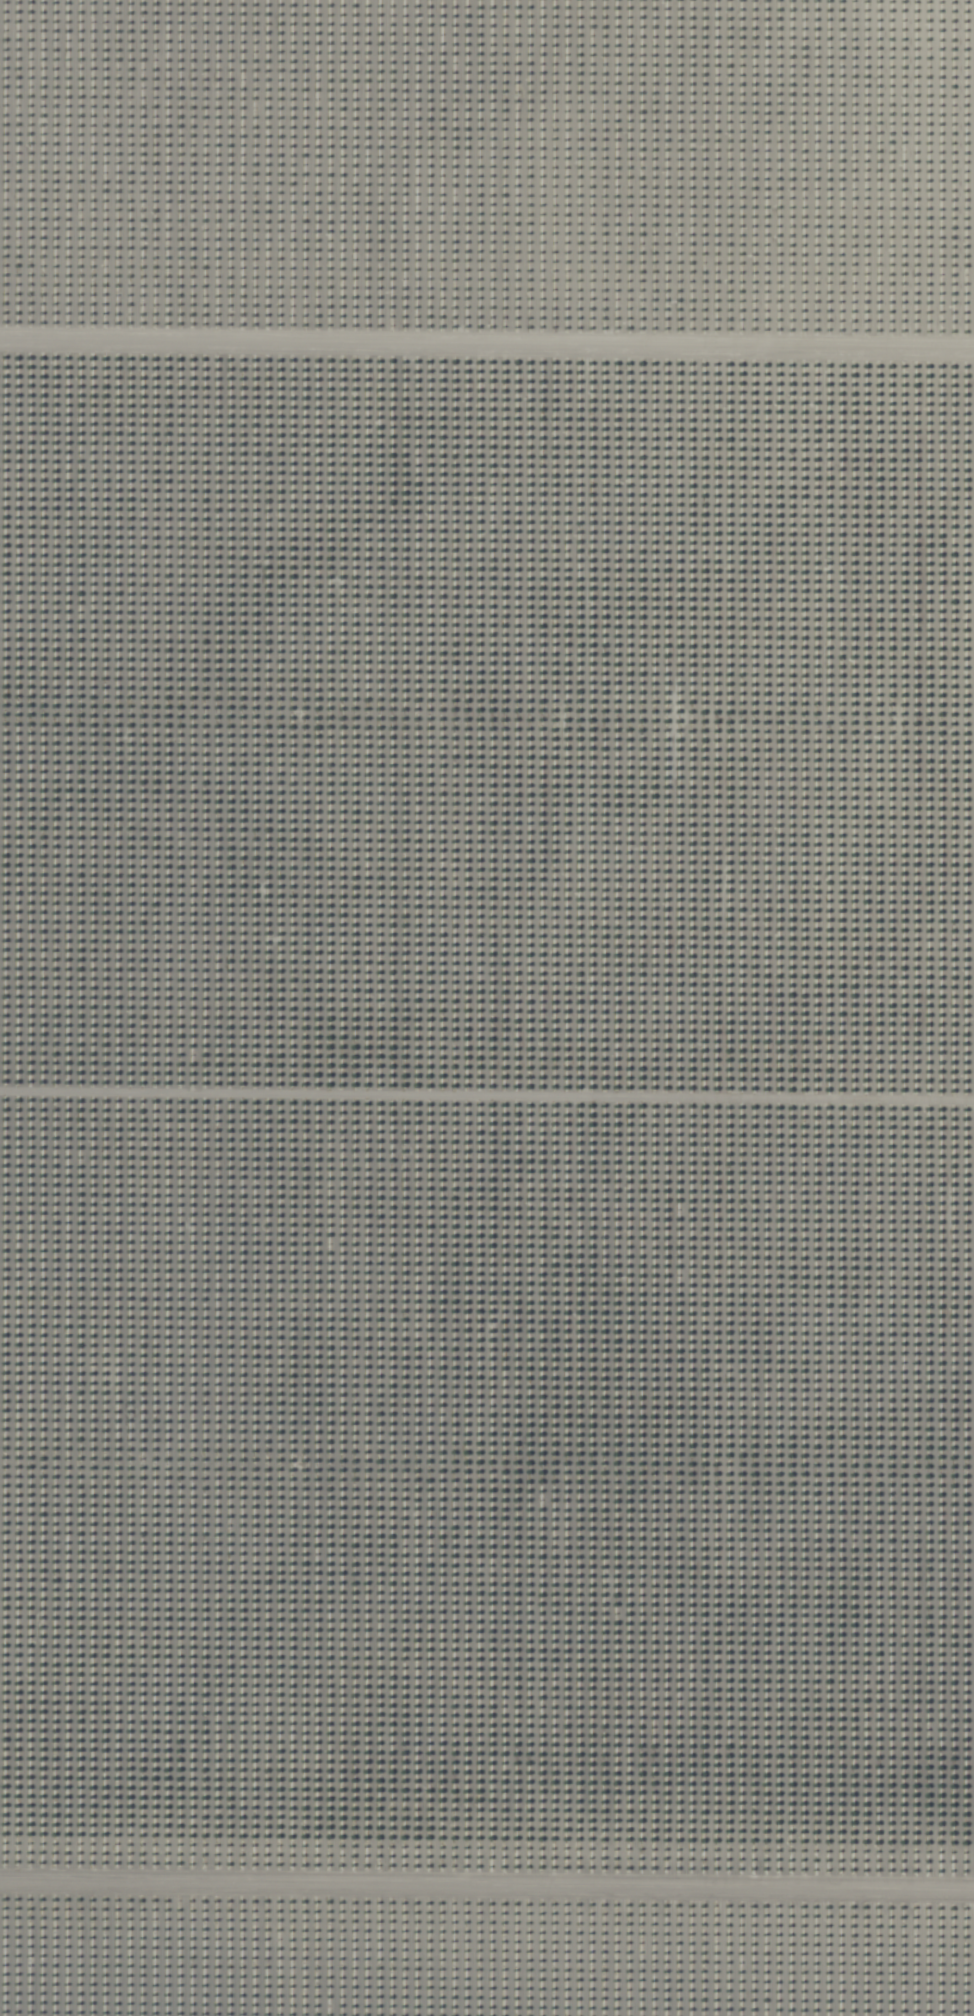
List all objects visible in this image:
crop: (487, 1008)
road: (487, 1854)

